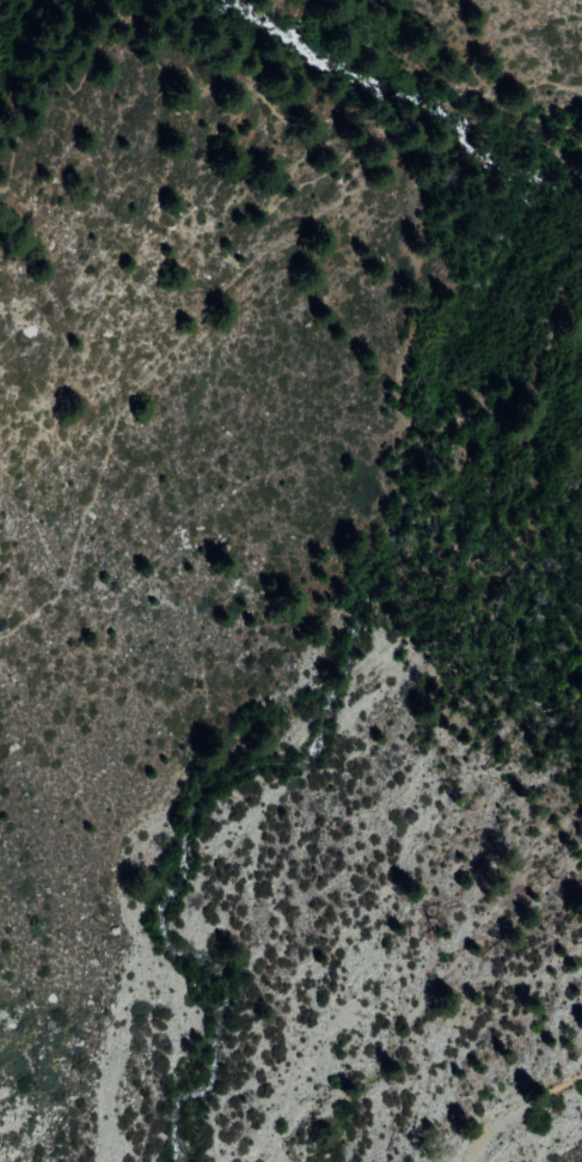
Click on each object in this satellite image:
road: (560, 86)
road: (207, 89)
road: (423, 109)
road: (391, 145)
road: (147, 375)
road: (515, 1111)

